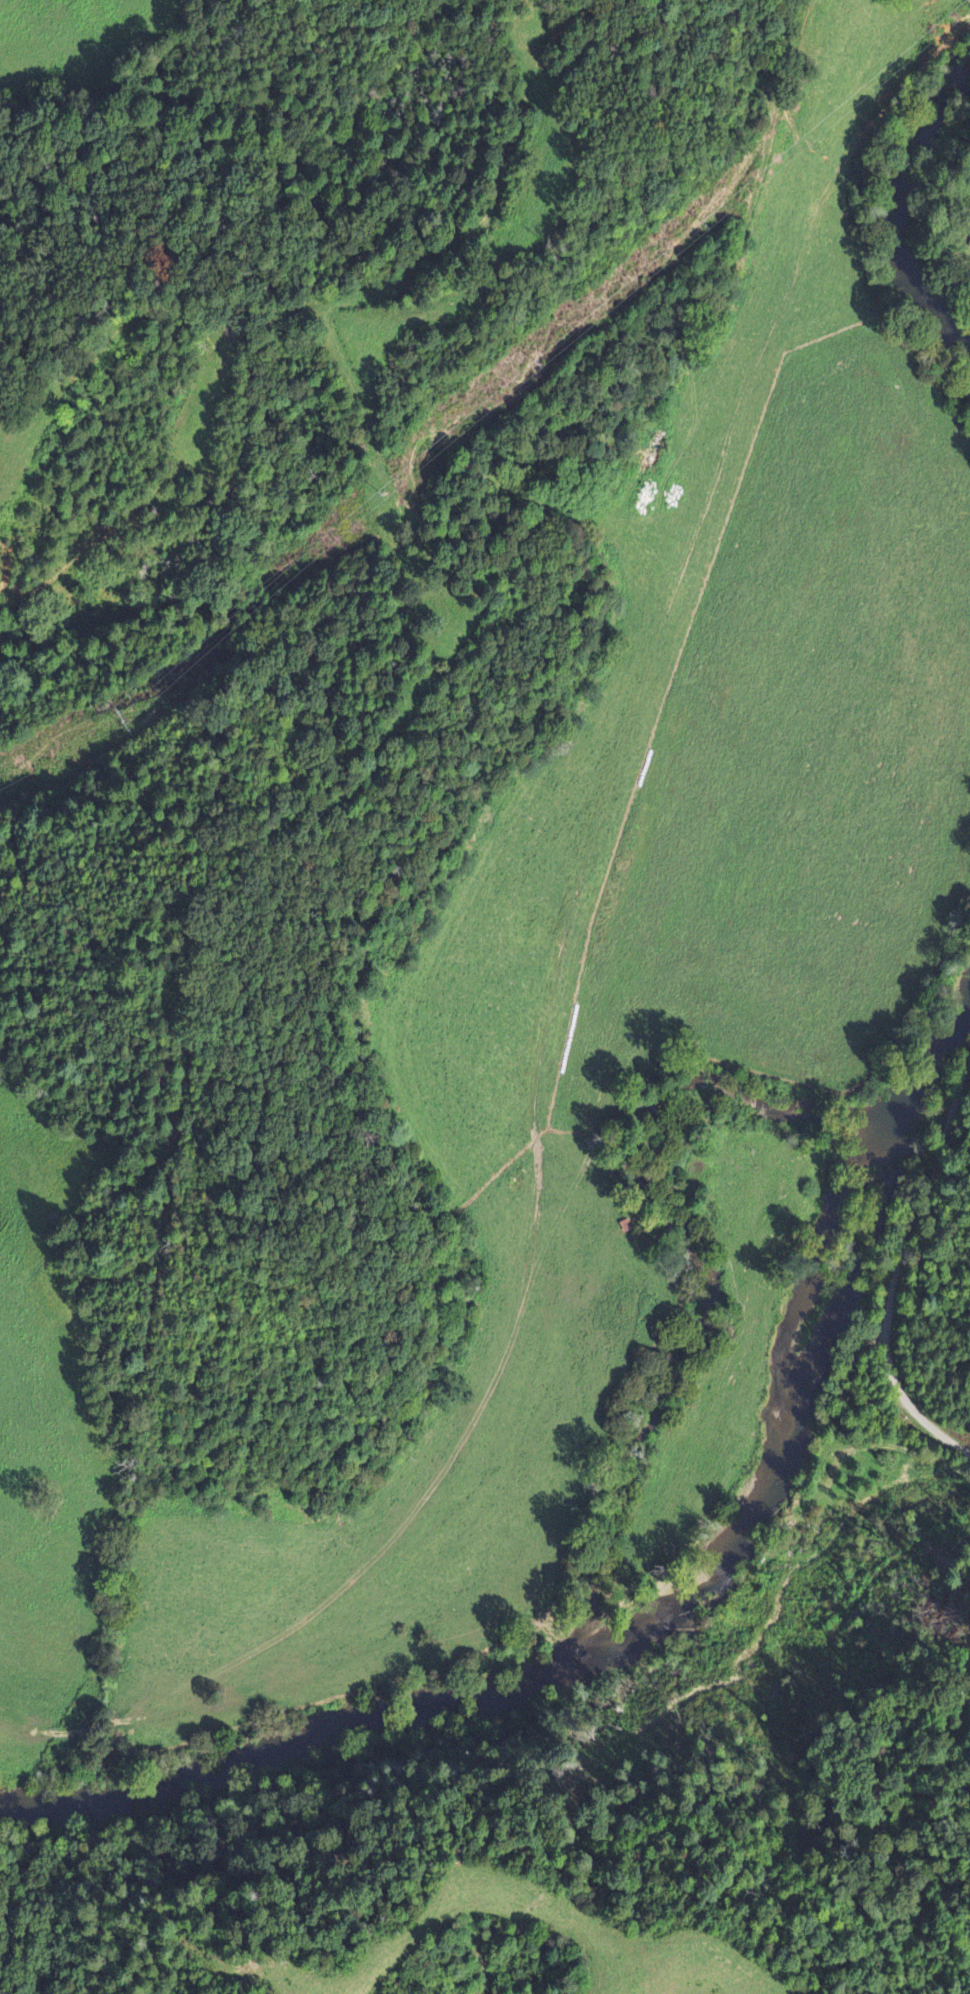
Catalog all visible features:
river: (917, 227)
power tower: (110, 715)
river: (651, 1624)

